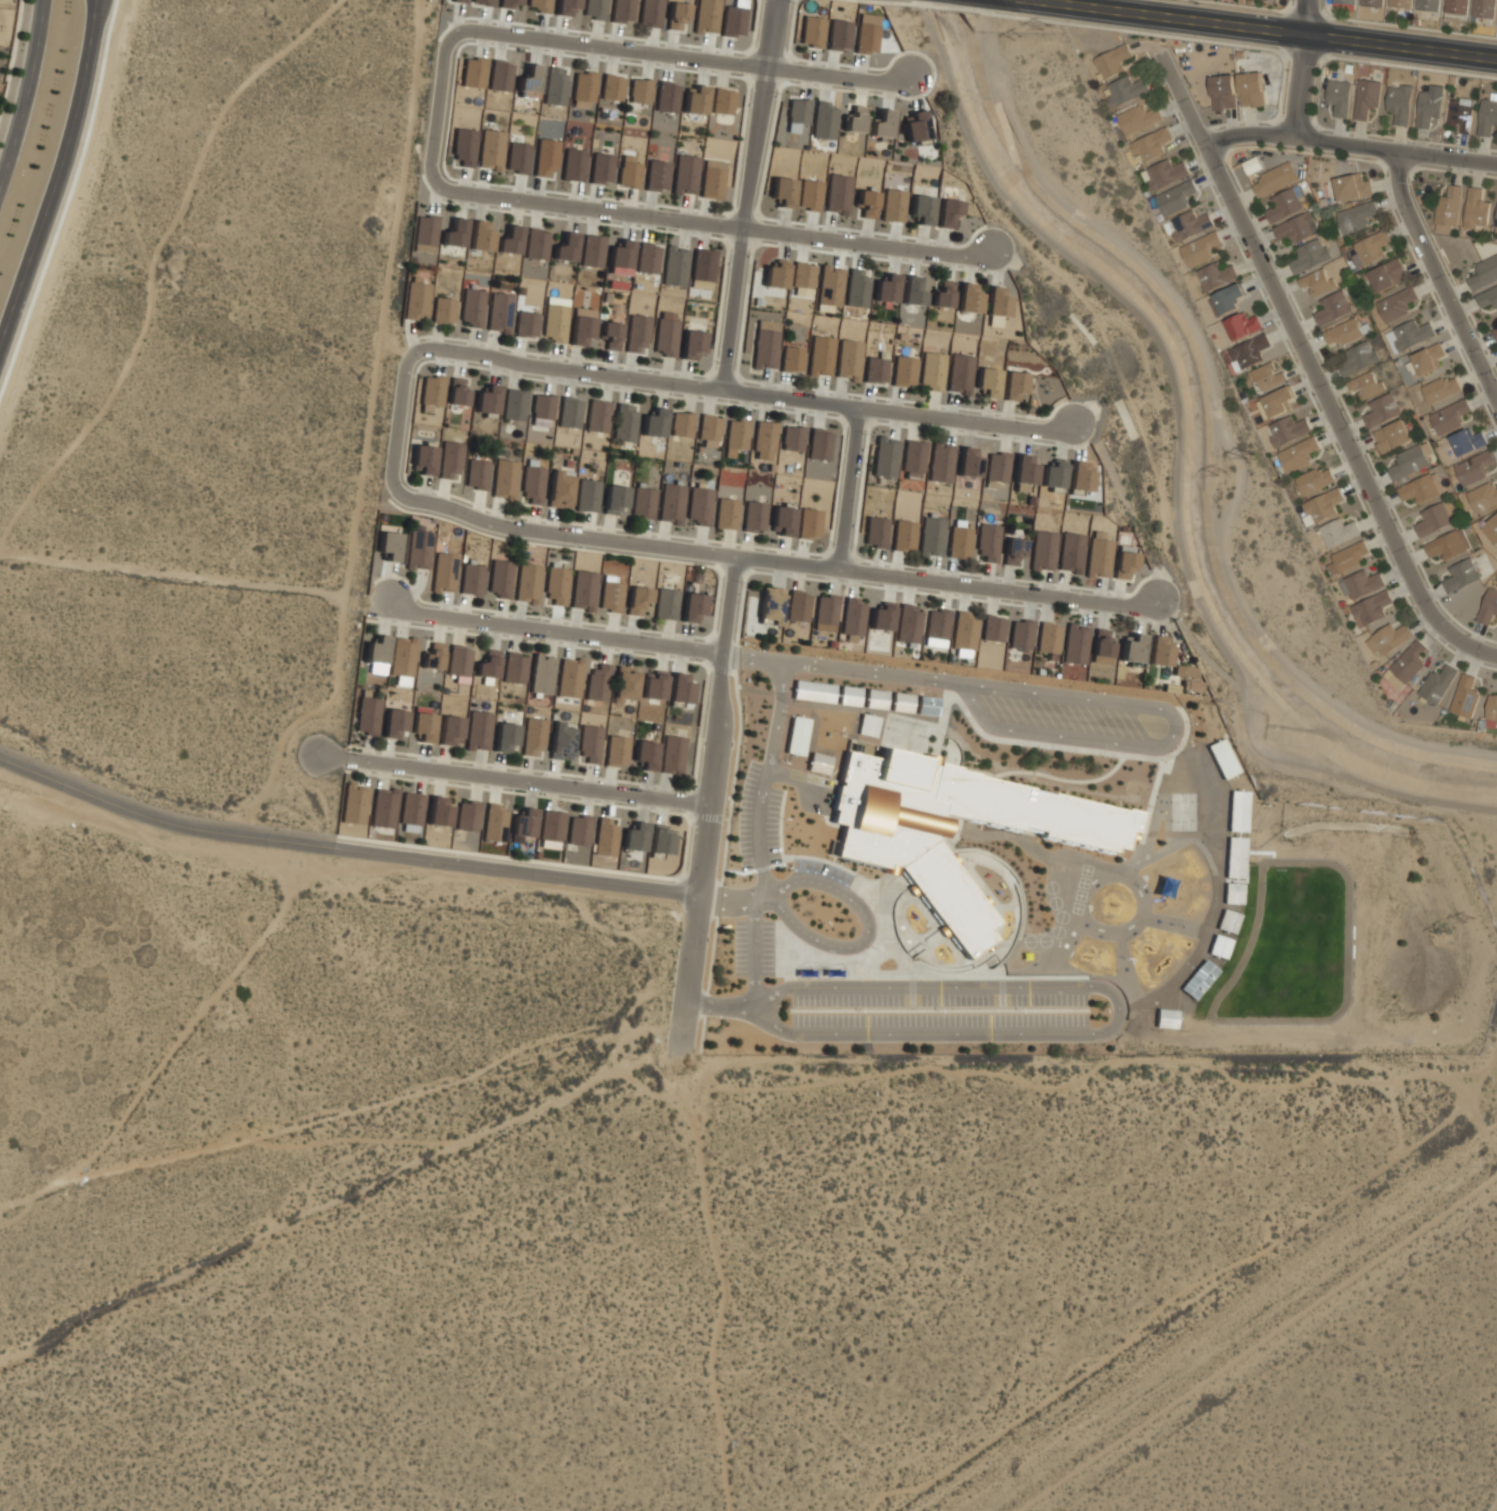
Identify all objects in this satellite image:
building: (1269, 0)
building: (460, 1)
building: (1345, 1)
building: (483, 2)
building: (1371, 2)
building: (512, 3)
building: (1401, 4)
building: (541, 5)
building: (1427, 6)
building: (1456, 6)
building: (567, 7)
building: (1483, 8)
building: (594, 9)
building: (623, 10)
building: (651, 12)
building: (676, 16)
building: (706, 16)
building: (733, 20)
power tower: (1045, 23)
road: (1270, 29)
building: (812, 31)
building: (839, 34)
building: (867, 38)
power tower: (1017, 38)
road: (34, 44)
road: (690, 59)
building: (1113, 61)
road: (1303, 69)
building: (471, 74)
building: (529, 79)
building: (498, 80)
building: (555, 86)
building: (612, 87)
building: (1251, 89)
building: (583, 90)
building: (639, 91)
building: (1125, 91)
building: (1223, 92)
building: (667, 97)
building: (1339, 97)
building: (1367, 97)
building: (722, 101)
building: (693, 103)
building: (1400, 103)
building: (1428, 108)
road: (440, 109)
building: (797, 114)
building: (1460, 114)
building: (1487, 116)
building: (1139, 118)
building: (855, 119)
building: (824, 120)
building: (916, 127)
road: (15, 136)
building: (1150, 145)
road: (1349, 145)
building: (463, 146)
building: (491, 150)
building: (517, 158)
building: (546, 158)
building: (573, 165)
building: (1252, 165)
building: (602, 168)
building: (629, 174)
building: (685, 174)
building: (1164, 174)
building: (656, 175)
building: (713, 178)
road: (60, 180)
building: (1269, 181)
building: (1352, 186)
building: (783, 191)
road: (749, 193)
building: (810, 194)
building: (838, 194)
building: (1175, 197)
building: (867, 203)
building: (893, 205)
building: (1283, 206)
building: (922, 209)
building: (1448, 210)
building: (1476, 210)
building: (947, 212)
building: (1496, 213)
building: (1355, 217)
building: (1496, 220)
building: (1187, 225)
road: (720, 227)
building: (1295, 228)
building: (425, 231)
building: (453, 233)
building: (480, 235)
building: (509, 238)
building: (536, 243)
building: (565, 247)
building: (1200, 249)
building: (1369, 249)
building: (591, 250)
building: (1309, 256)
building: (619, 258)
building: (647, 258)
building: (702, 265)
building: (674, 266)
road: (1440, 273)
building: (1484, 273)
building: (776, 274)
building: (803, 275)
building: (1216, 275)
building: (1386, 276)
building: (1318, 281)
building: (829, 288)
building: (857, 288)
building: (887, 288)
building: (912, 291)
building: (943, 294)
building: (416, 298)
building: (969, 298)
building: (1229, 298)
building: (1488, 298)
building: (996, 302)
building: (1396, 304)
building: (1332, 307)
building: (471, 309)
building: (443, 310)
building: (500, 313)
road: (1139, 316)
building: (555, 324)
building: (526, 325)
building: (1242, 325)
building: (580, 331)
building: (1345, 332)
building: (666, 333)
building: (1410, 333)
building: (1495, 333)
building: (637, 334)
building: (610, 337)
building: (692, 344)
building: (766, 344)
building: (1248, 352)
building: (821, 355)
building: (1359, 358)
building: (1427, 358)
building: (792, 359)
building: (849, 359)
building: (875, 370)
building: (904, 370)
building: (933, 370)
building: (960, 373)
building: (1267, 376)
building: (988, 381)
building: (1014, 381)
road: (1317, 381)
building: (1367, 383)
building: (1441, 389)
road: (752, 391)
building: (431, 392)
building: (458, 392)
building: (488, 399)
building: (1278, 401)
building: (514, 404)
building: (542, 409)
building: (1381, 411)
building: (570, 412)
road: (400, 415)
building: (598, 416)
building: (1449, 416)
building: (625, 422)
building: (654, 423)
building: (681, 424)
building: (709, 430)
building: (1287, 430)
building: (1391, 436)
building: (764, 437)
building: (732, 438)
building: (792, 439)
building: (1467, 442)
building: (819, 445)
power tower: (1247, 451)
building: (1298, 454)
building: (885, 457)
building: (913, 459)
building: (422, 460)
building: (450, 460)
building: (941, 462)
building: (968, 463)
building: (1408, 463)
building: (997, 467)
building: (1475, 467)
power tower: (1223, 470)
building: (1023, 473)
building: (477, 474)
building: (1079, 477)
building: (505, 478)
building: (1315, 480)
building: (533, 484)
road: (852, 487)
building: (1421, 488)
building: (561, 490)
building: (587, 497)
building: (1483, 498)
building: (615, 501)
building: (642, 504)
building: (670, 504)
building: (1323, 505)
building: (699, 507)
building: (726, 513)
building: (753, 518)
building: (1435, 518)
building: (782, 519)
building: (808, 523)
building: (1493, 523)
building: (876, 531)
building: (1338, 532)
building: (904, 535)
building: (932, 536)
building: (959, 540)
building: (988, 541)
building: (1448, 544)
building: (389, 545)
building: (418, 550)
building: (1013, 550)
building: (1043, 550)
building: (1071, 552)
building: (1098, 555)
building: (1349, 556)
road: (777, 560)
building: (1124, 561)
building: (444, 573)
building: (1460, 576)
building: (471, 578)
building: (499, 578)
building: (528, 583)
building: (1362, 583)
building: (556, 585)
building: (583, 590)
building: (610, 593)
building: (637, 599)
building: (665, 604)
building: (771, 604)
building: (798, 606)
building: (692, 607)
building: (1488, 607)
building: (1371, 608)
building: (826, 609)
building: (882, 617)
building: (853, 618)
building: (908, 624)
building: (937, 627)
road: (557, 628)
building: (993, 628)
building: (964, 631)
building: (1020, 634)
building: (1389, 638)
building: (1076, 644)
building: (1102, 647)
building: (1132, 649)
building: (376, 651)
building: (1159, 651)
building: (433, 656)
building: (403, 658)
building: (458, 662)
building: (1407, 663)
building: (487, 664)
building: (514, 668)
building: (1184, 671)
building: (541, 675)
building: (570, 677)
building: (598, 683)
building: (625, 683)
building: (1439, 684)
building: (654, 685)
building: (680, 688)
road: (946, 688)
building: (813, 691)
building: (849, 696)
building: (1465, 696)
building: (875, 699)
building: (901, 702)
road: (1106, 703)
building: (927, 706)
building: (1491, 711)
building: (368, 716)
parking lot: (1068, 716)
building: (393, 722)
building: (423, 726)
building: (866, 726)
building: (448, 731)
building: (478, 731)
park: (904, 733)
building: (796, 736)
building: (534, 737)
building: (504, 738)
road: (992, 739)
building: (561, 741)
building: (590, 743)
building: (617, 750)
building: (645, 754)
building: (672, 754)
building: (1222, 758)
road: (1287, 760)
building: (818, 764)
road: (1098, 778)
road: (794, 779)
road: (515, 780)
road: (710, 791)
building: (355, 804)
building: (384, 807)
road: (1149, 808)
building: (411, 810)
park: (1182, 811)
building: (1238, 811)
building: (439, 812)
building: (467, 816)
parking lot: (757, 820)
building: (495, 823)
building: (524, 823)
building: (551, 825)
building: (579, 830)
building: (605, 836)
building: (634, 840)
road: (757, 841)
building: (660, 842)
road: (343, 849)
building: (889, 853)
building: (1235, 856)
road: (1004, 866)
parking lot: (821, 870)
building: (1163, 886)
building: (1233, 893)
road: (727, 895)
power tower: (1471, 920)
building: (1227, 922)
power tower: (1442, 931)
road: (866, 934)
road: (1016, 935)
road: (887, 937)
building: (1219, 946)
parking lot: (753, 948)
road: (853, 962)
road: (838, 976)
building: (1198, 980)
parking lot: (939, 1010)
road: (1117, 1014)
building: (1165, 1018)

